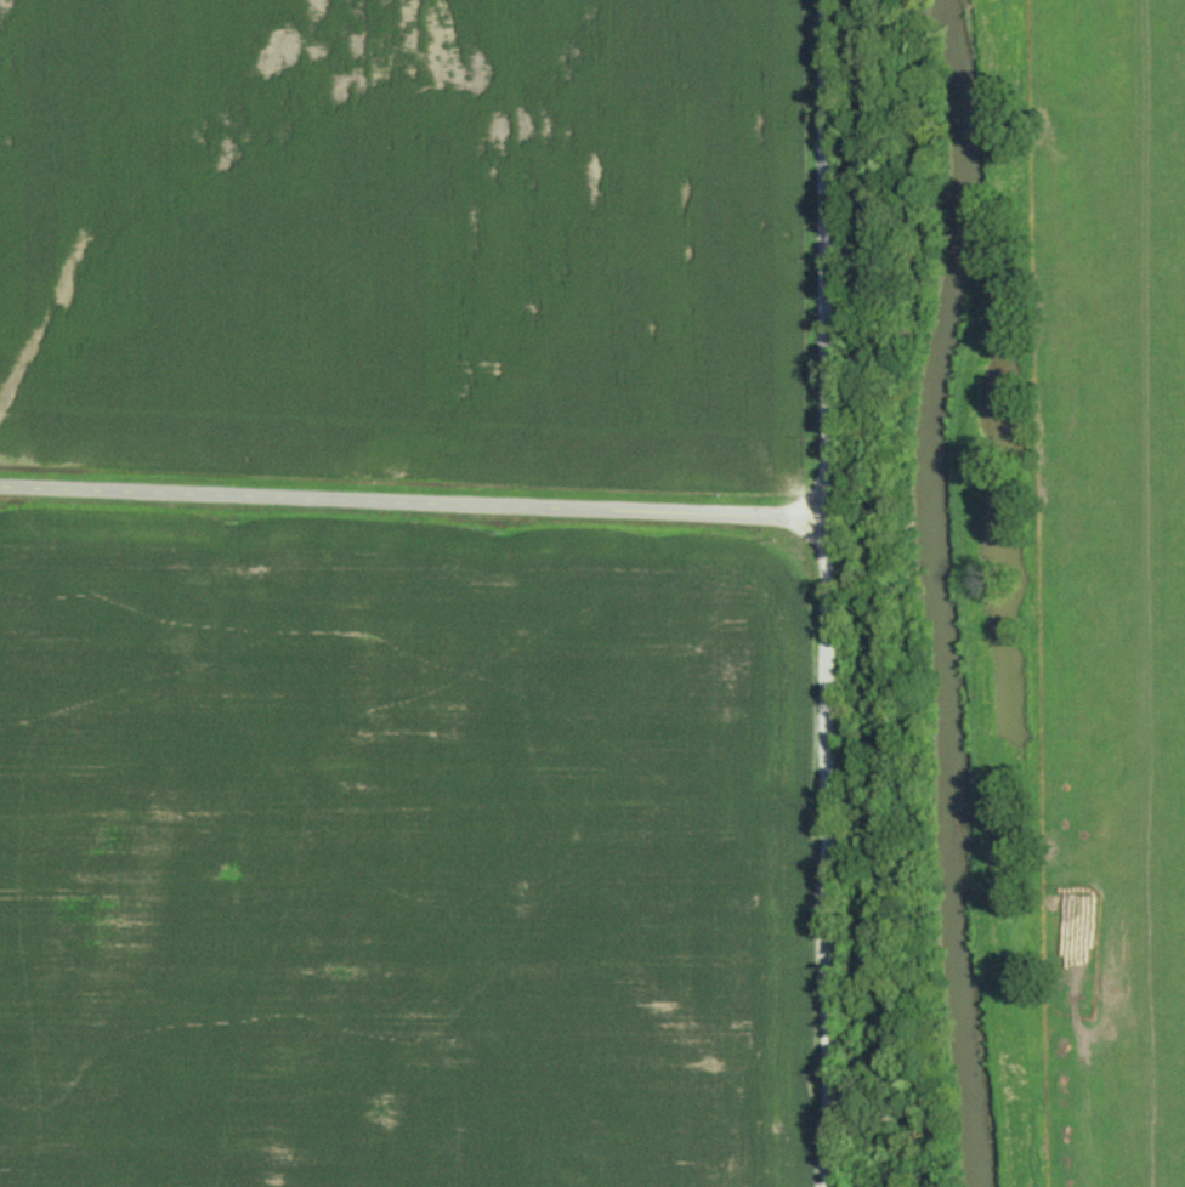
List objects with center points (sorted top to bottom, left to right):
road: (414, 500)
road: (828, 593)

